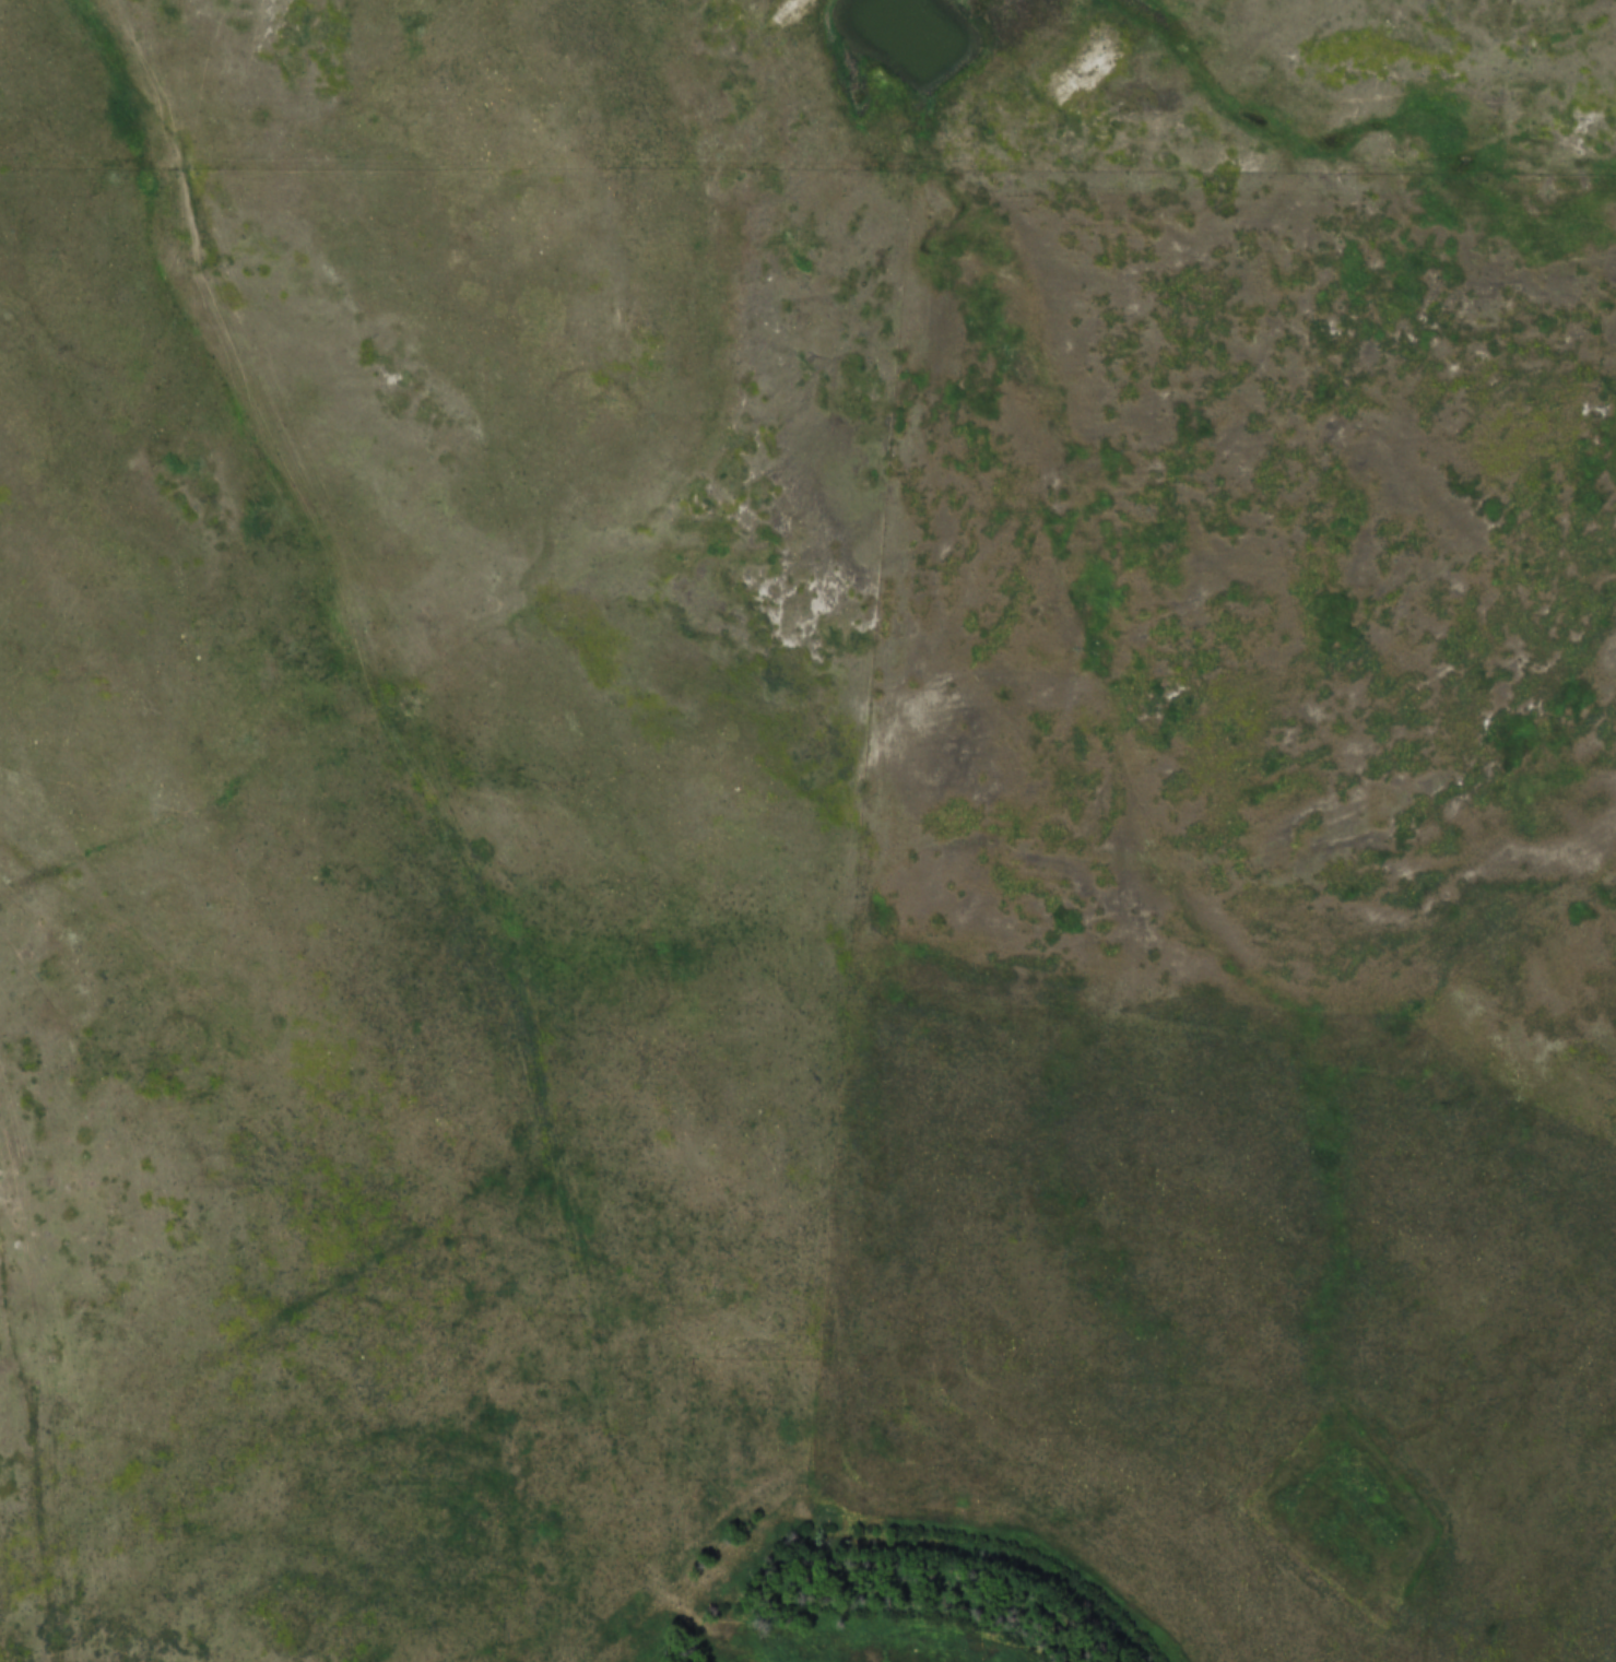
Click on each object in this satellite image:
dam: (780, 10)

